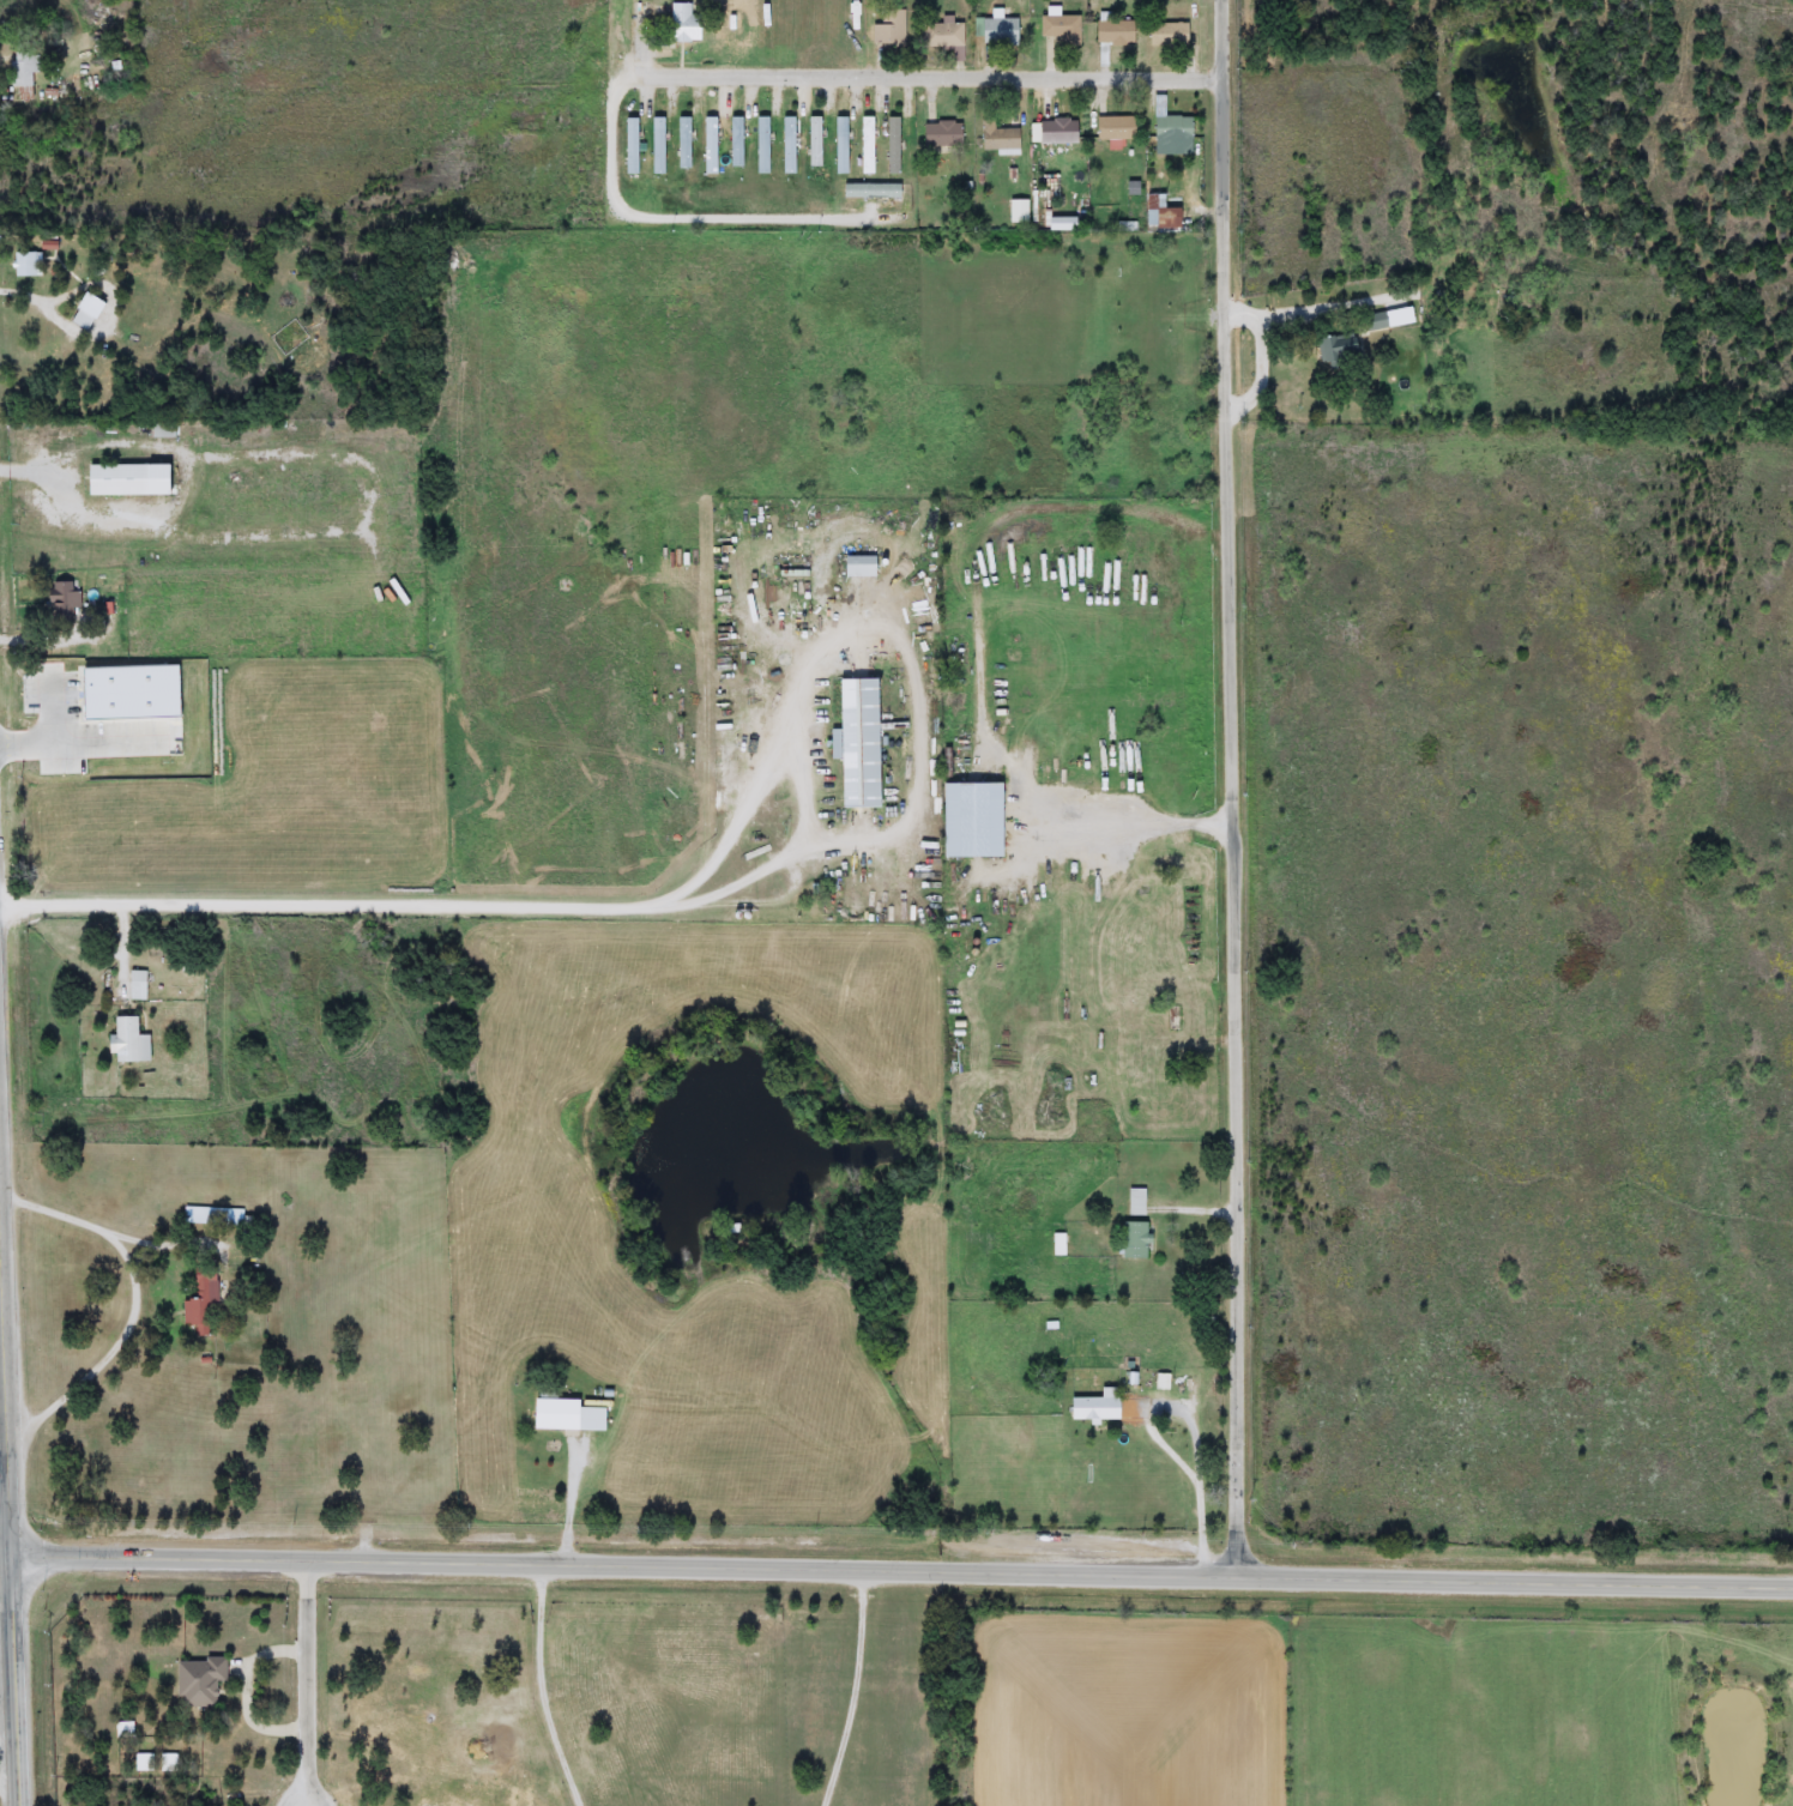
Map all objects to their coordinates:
building: (683, 22)
building: (889, 28)
building: (1059, 28)
building: (996, 30)
building: (1115, 32)
building: (1167, 34)
building: (940, 35)
road: (906, 71)
building: (22, 74)
building: (1169, 123)
building: (1112, 128)
building: (1055, 132)
building: (941, 134)
building: (997, 138)
building: (1160, 218)
road: (669, 219)
building: (26, 262)
building: (1375, 321)
building: (1336, 346)
building: (158, 430)
building: (127, 481)
road: (78, 507)
road: (1002, 515)
building: (857, 567)
building: (65, 603)
building: (131, 690)
road: (53, 701)
road: (81, 741)
building: (857, 743)
road: (1233, 783)
building: (968, 820)
road: (805, 827)
road: (1098, 830)
road: (321, 901)
road: (65, 942)
road: (121, 952)
building: (135, 985)
building: (127, 1041)
building: (1136, 1202)
building: (218, 1218)
road: (104, 1232)
building: (1133, 1240)
building: (200, 1300)
road: (114, 1349)
building: (1095, 1407)
building: (565, 1414)
road: (10, 1429)
road: (1197, 1466)
road: (7, 1534)
road: (902, 1563)
building: (197, 1680)
road: (309, 1680)
road: (542, 1686)
road: (859, 1686)
road: (11, 1742)
road: (11, 1788)
road: (309, 1805)

